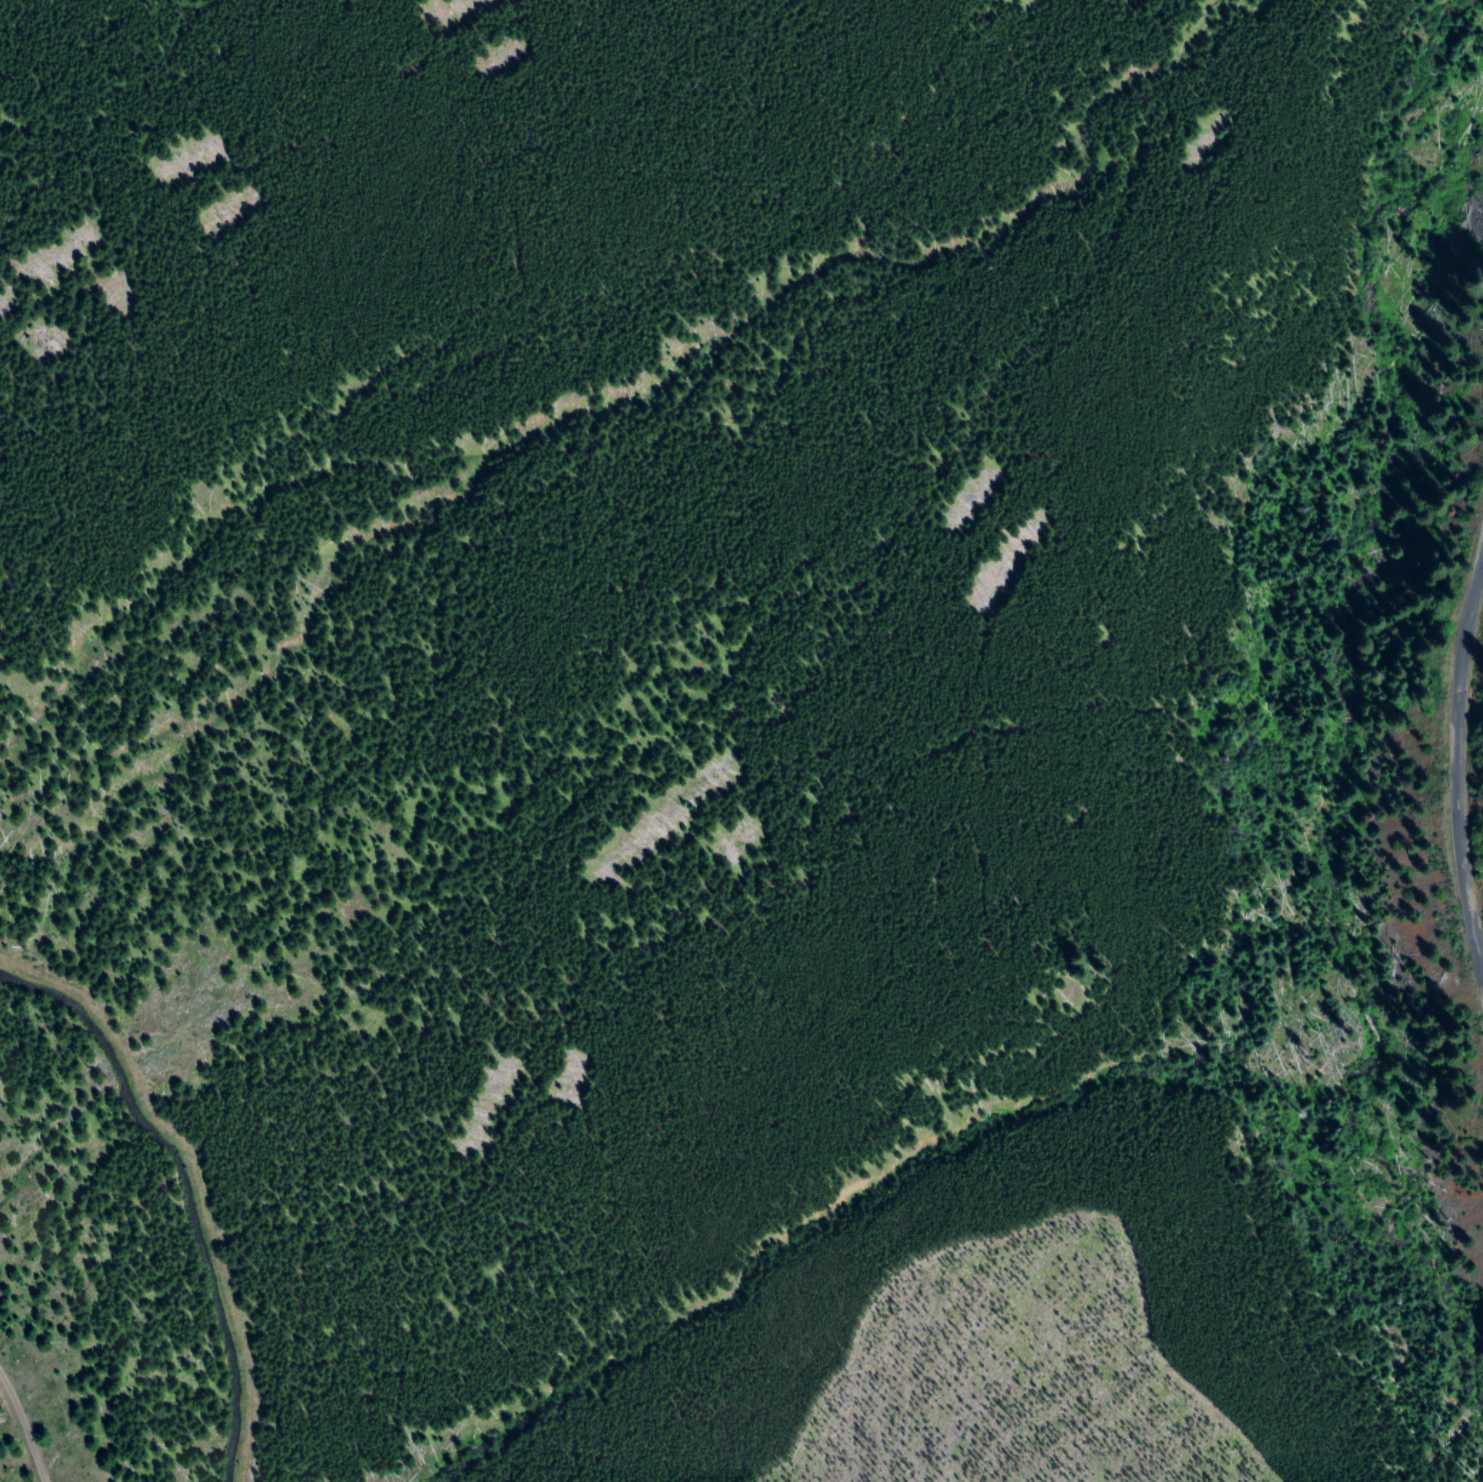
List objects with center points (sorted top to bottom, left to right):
road: (1432, 672)
road: (37, 1438)

